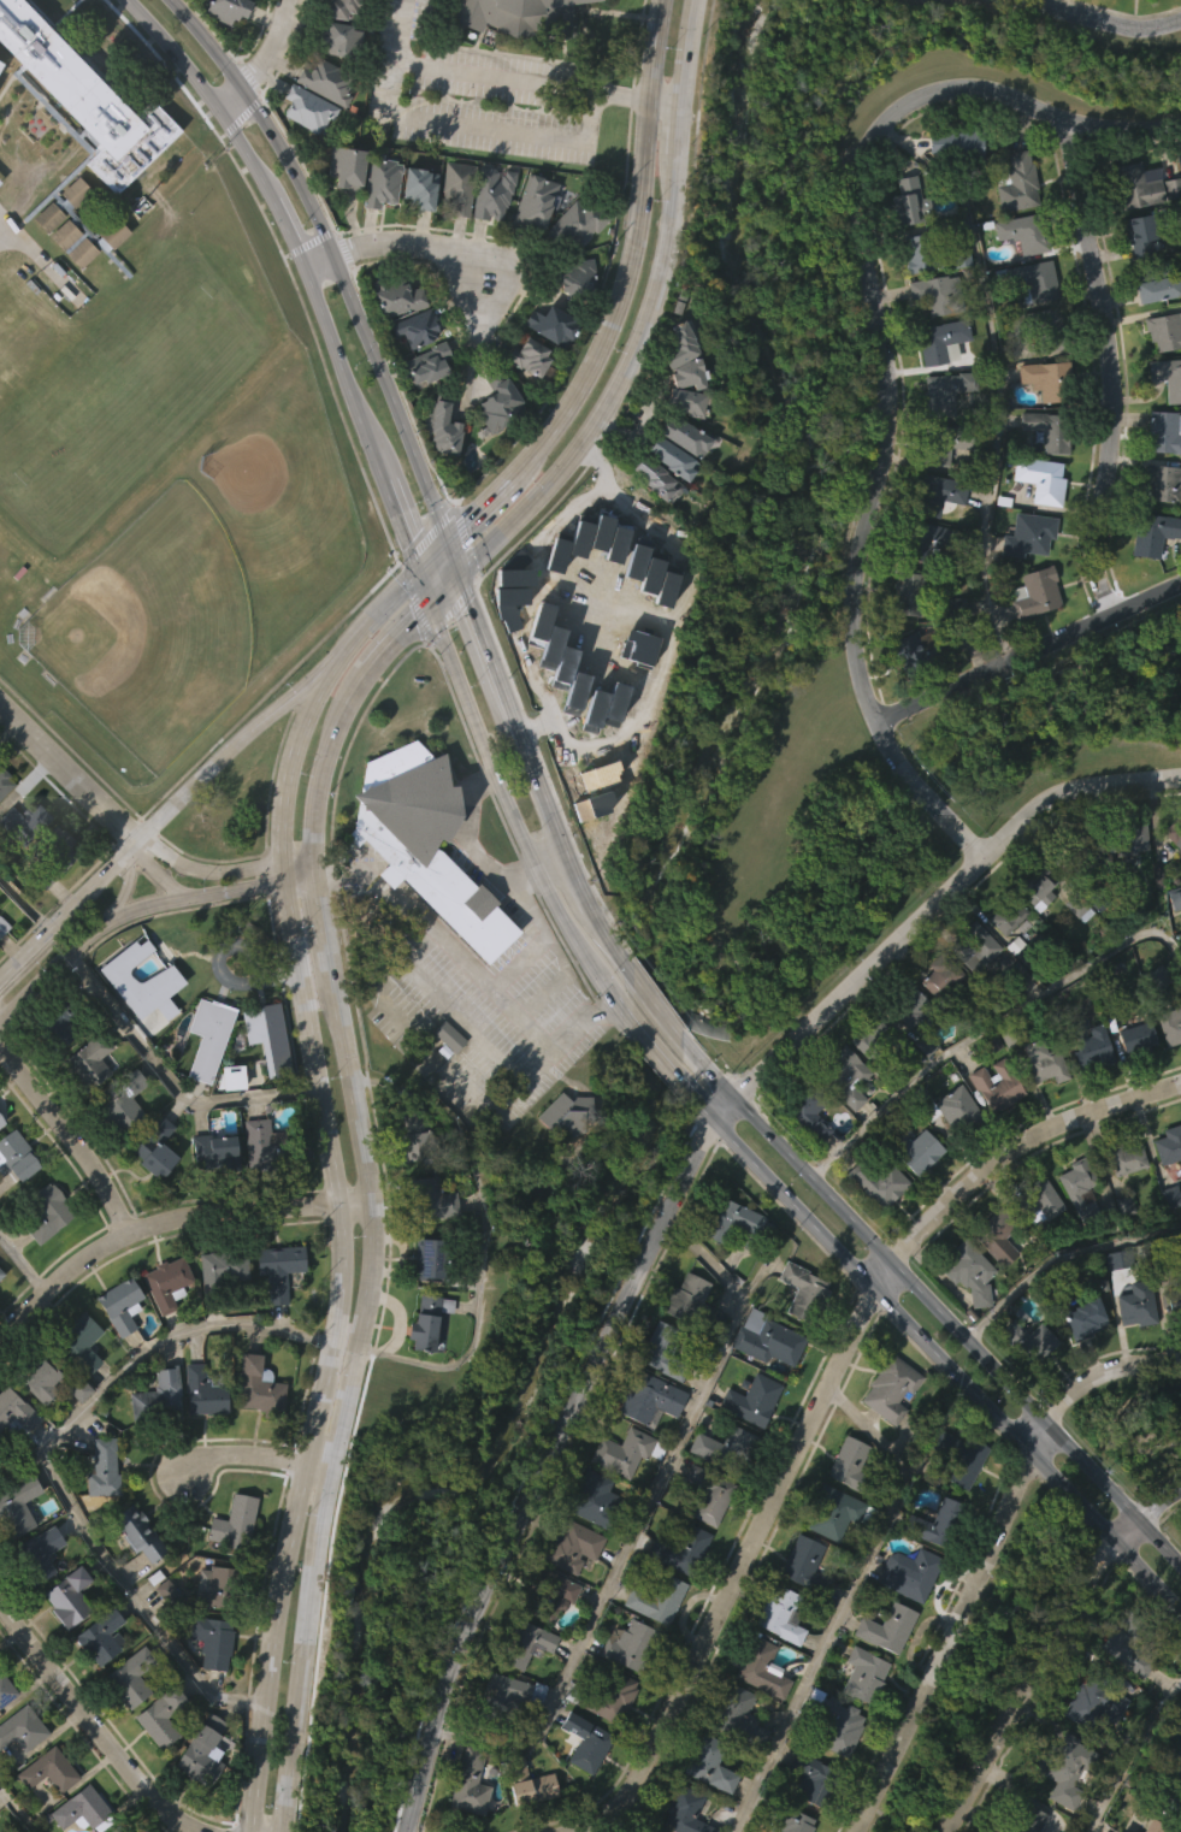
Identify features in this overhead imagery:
building: (1015, 0)
building: (1059, 6)
building: (1173, 7)
building: (341, 8)
building: (225, 10)
building: (1126, 14)
building: (520, 16)
road: (1106, 18)
building: (338, 39)
road: (205, 43)
building: (223, 53)
road: (259, 63)
building: (327, 81)
road: (507, 82)
building: (84, 94)
building: (305, 107)
road: (478, 128)
building: (323, 129)
road: (1179, 138)
building: (77, 142)
building: (961, 144)
building: (305, 156)
building: (346, 165)
building: (382, 182)
building: (1020, 182)
building: (1139, 185)
building: (459, 187)
building: (423, 188)
building: (494, 193)
building: (950, 193)
building: (532, 200)
building: (909, 201)
road: (278, 213)
building: (342, 214)
building: (578, 224)
building: (377, 229)
building: (1027, 232)
building: (1138, 234)
building: (454, 235)
building: (415, 236)
building: (72, 238)
building: (488, 240)
building: (531, 250)
building: (920, 252)
road: (628, 255)
road: (402, 259)
building: (45, 264)
building: (76, 268)
building: (574, 277)
building: (1034, 279)
building: (111, 280)
building: (1147, 282)
building: (70, 290)
building: (940, 294)
building: (395, 295)
building: (914, 300)
road: (354, 314)
road: (643, 320)
building: (1142, 324)
building: (555, 326)
building: (415, 327)
building: (1164, 330)
building: (1045, 331)
building: (1146, 338)
building: (943, 341)
building: (394, 344)
road: (882, 349)
building: (679, 354)
building: (532, 357)
building: (427, 362)
road: (1108, 368)
building: (548, 373)
building: (413, 376)
road: (996, 376)
building: (1169, 377)
building: (1050, 380)
building: (947, 392)
building: (683, 400)
building: (525, 403)
building: (500, 404)
building: (424, 412)
building: (441, 426)
building: (1051, 430)
building: (1165, 432)
building: (680, 436)
building: (944, 443)
building: (681, 449)
building: (494, 451)
building: (669, 457)
building: (438, 473)
building: (651, 478)
building: (1039, 478)
building: (1163, 483)
building: (681, 484)
building: (934, 496)
road: (622, 500)
building: (667, 504)
road: (563, 512)
road: (478, 515)
road: (401, 518)
building: (651, 527)
building: (1031, 534)
building: (1156, 534)
building: (926, 540)
road: (433, 561)
road: (450, 565)
building: (1151, 580)
building: (922, 587)
road: (425, 592)
building: (907, 592)
building: (1037, 593)
road: (442, 596)
road: (368, 621)
park: (150, 626)
road: (397, 636)
building: (1031, 640)
road: (1027, 651)
building: (952, 652)
building: (917, 654)
road: (495, 681)
building: (904, 697)
road: (224, 752)
road: (484, 757)
road: (321, 767)
road: (67, 769)
building: (5, 781)
building: (25, 821)
building: (4, 829)
building: (1175, 832)
road: (555, 837)
building: (1134, 838)
building: (427, 840)
building: (1086, 853)
building: (54, 855)
road: (483, 855)
building: (22, 867)
road: (217, 870)
road: (155, 871)
building: (1173, 877)
road: (125, 881)
building: (1039, 885)
building: (1127, 885)
building: (421, 890)
building: (57, 893)
road: (585, 898)
road: (24, 903)
road: (935, 903)
building: (1103, 903)
road: (65, 910)
road: (138, 910)
road: (315, 910)
building: (1012, 912)
building: (4, 926)
road: (539, 934)
building: (1035, 935)
building: (976, 946)
building: (1173, 947)
road: (578, 948)
building: (1074, 953)
building: (1003, 963)
road: (470, 964)
building: (1, 975)
building: (943, 975)
road: (640, 992)
building: (969, 994)
road: (543, 998)
building: (911, 1007)
building: (59, 1023)
road: (460, 1023)
building: (1156, 1023)
building: (937, 1026)
building: (1170, 1026)
road: (982, 1028)
building: (1140, 1038)
building: (449, 1039)
building: (874, 1040)
building: (1091, 1041)
road: (645, 1048)
road: (429, 1053)
building: (905, 1053)
building: (1047, 1062)
building: (88, 1065)
building: (57, 1072)
building: (1168, 1072)
building: (846, 1076)
road: (165, 1077)
building: (264, 1083)
building: (444, 1083)
building: (205, 1085)
building: (994, 1086)
building: (1132, 1086)
road: (715, 1087)
building: (916, 1094)
building: (1087, 1094)
building: (123, 1101)
building: (85, 1107)
building: (1039, 1107)
building: (810, 1110)
building: (958, 1111)
road: (696, 1112)
road: (718, 1113)
building: (569, 1115)
building: (2, 1119)
building: (842, 1122)
building: (229, 1124)
building: (991, 1131)
building: (417, 1133)
road: (70, 1139)
building: (152, 1145)
building: (1170, 1145)
building: (268, 1146)
building: (217, 1151)
building: (919, 1151)
building: (18, 1156)
building: (952, 1156)
building: (1123, 1157)
building: (117, 1158)
building: (565, 1159)
building: (802, 1163)
building: (0, 1169)
building: (409, 1181)
building: (881, 1182)
building: (1076, 1182)
building: (256, 1189)
building: (1165, 1192)
building: (152, 1195)
building: (212, 1198)
building: (911, 1198)
building: (432, 1199)
building: (1041, 1199)
building: (14, 1202)
building: (1122, 1205)
building: (48, 1213)
building: (731, 1222)
road: (164, 1225)
building: (874, 1230)
building: (999, 1235)
building: (1165, 1243)
building: (1037, 1246)
road: (336, 1251)
building: (1120, 1252)
road: (1058, 1255)
building: (433, 1259)
building: (42, 1260)
road: (24, 1261)
building: (279, 1269)
building: (728, 1269)
building: (222, 1270)
building: (972, 1272)
building: (1, 1275)
building: (169, 1283)
building: (992, 1284)
building: (805, 1292)
building: (1170, 1302)
building: (1135, 1304)
building: (122, 1305)
building: (695, 1305)
building: (219, 1313)
building: (274, 1316)
building: (1083, 1317)
building: (963, 1318)
building: (425, 1320)
building: (0, 1322)
building: (163, 1330)
road: (956, 1331)
building: (799, 1338)
building: (1028, 1341)
building: (79, 1342)
building: (772, 1342)
building: (681, 1345)
building: (665, 1351)
building: (1132, 1351)
building: (1168, 1351)
building: (117, 1352)
road: (462, 1357)
building: (707, 1360)
building: (1080, 1365)
building: (420, 1370)
road: (946, 1371)
building: (41, 1381)
road: (344, 1385)
building: (261, 1388)
building: (893, 1388)
building: (1026, 1388)
building: (76, 1390)
building: (205, 1391)
building: (649, 1396)
building: (159, 1399)
building: (754, 1400)
road: (819, 1402)
building: (16, 1410)
park: (473, 1423)
building: (37, 1426)
building: (254, 1434)
building: (76, 1436)
building: (886, 1436)
building: (200, 1438)
building: (154, 1442)
building: (727, 1448)
building: (624, 1450)
building: (13, 1455)
building: (963, 1458)
road: (238, 1460)
road: (52, 1461)
building: (854, 1466)
building: (104, 1468)
road: (312, 1470)
road: (539, 1471)
building: (710, 1494)
building: (722, 1494)
building: (618, 1499)
building: (594, 1500)
building: (955, 1503)
building: (18, 1508)
road: (638, 1508)
building: (832, 1512)
building: (100, 1514)
building: (689, 1520)
building: (236, 1521)
building: (935, 1523)
building: (138, 1533)
building: (574, 1547)
building: (708, 1547)
building: (683, 1550)
building: (14, 1553)
building: (40, 1554)
building: (829, 1559)
road: (981, 1561)
building: (803, 1564)
building: (230, 1568)
building: (913, 1573)
building: (135, 1578)
building: (219, 1589)
building: (545, 1594)
building: (568, 1594)
building: (677, 1597)
building: (70, 1598)
building: (35, 1600)
building: (659, 1600)
road: (842, 1600)
building: (799, 1611)
building: (783, 1615)
building: (890, 1627)
building: (102, 1636)
building: (163, 1637)
building: (1133, 1641)
building: (214, 1642)
building: (64, 1643)
building: (525, 1643)
road: (1046, 1645)
building: (633, 1647)
building: (652, 1647)
building: (776, 1661)
building: (761, 1667)
building: (884, 1674)
building: (128, 1676)
building: (867, 1676)
building: (96, 1683)
building: (208, 1686)
building: (6, 1689)
building: (607, 1695)
building: (506, 1697)
building: (1097, 1697)
building: (1123, 1698)
building: (757, 1715)
building: (161, 1718)
building: (739, 1718)
building: (835, 1720)
building: (860, 1721)
building: (23, 1727)
building: (125, 1728)
road: (96, 1731)
building: (504, 1739)
building: (587, 1741)
building: (608, 1745)
building: (202, 1750)
building: (1091, 1753)
building: (732, 1757)
road: (1133, 1760)
building: (713, 1762)
building: (157, 1763)
building: (1067, 1766)
building: (49, 1768)
building: (835, 1771)
building: (19, 1774)
building: (1168, 1774)
building: (816, 1777)
building: (530, 1781)
building: (471, 1783)
building: (581, 1789)
building: (199, 1796)
building: (1061, 1806)
building: (82, 1807)
road: (17, 1809)
building: (704, 1809)
building: (687, 1812)
building: (465, 1813)
building: (45, 1815)
building: (789, 1818)
building: (1024, 1820)
building: (1155, 1826)
building: (531, 1827)
building: (118, 1828)
building: (84, 1831)
building: (130, 1831)
building: (644, 1831)
building: (674, 1831)
building: (1120, 1831)

